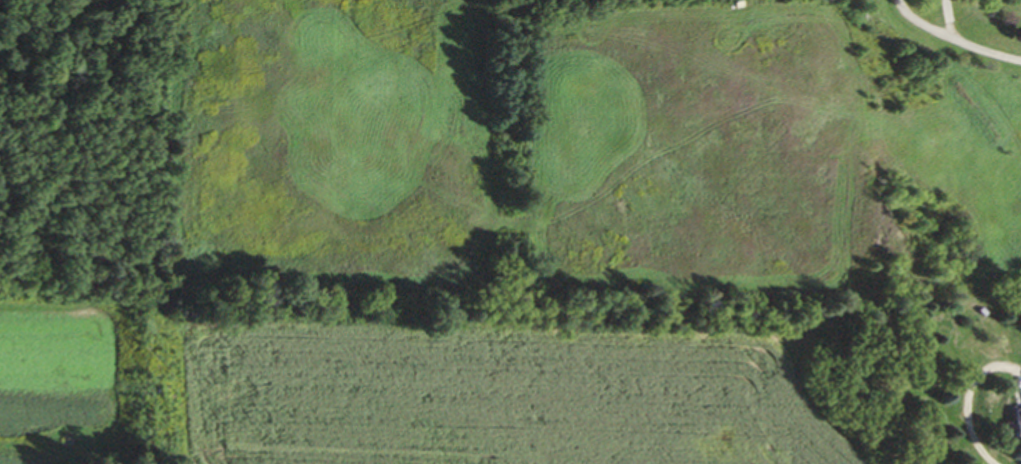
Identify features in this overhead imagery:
road: (952, 18)
road: (923, 24)
road: (988, 50)
road: (1020, 396)
road: (971, 402)
building: (1015, 425)

